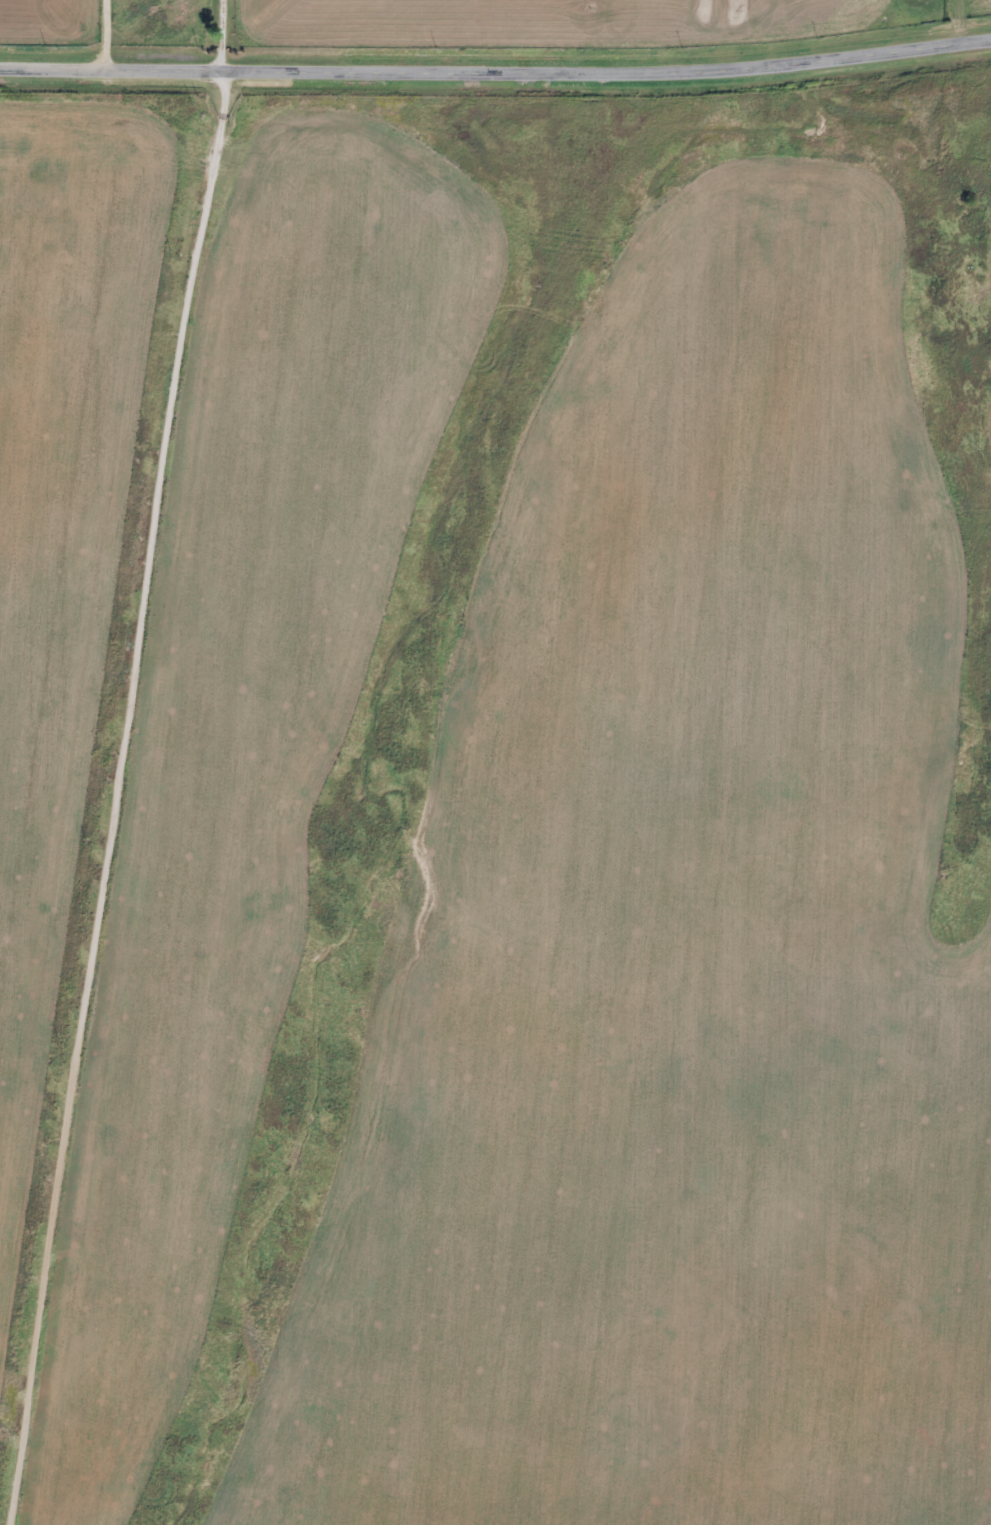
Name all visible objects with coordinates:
road: (128, 35)
road: (211, 35)
road: (496, 73)

